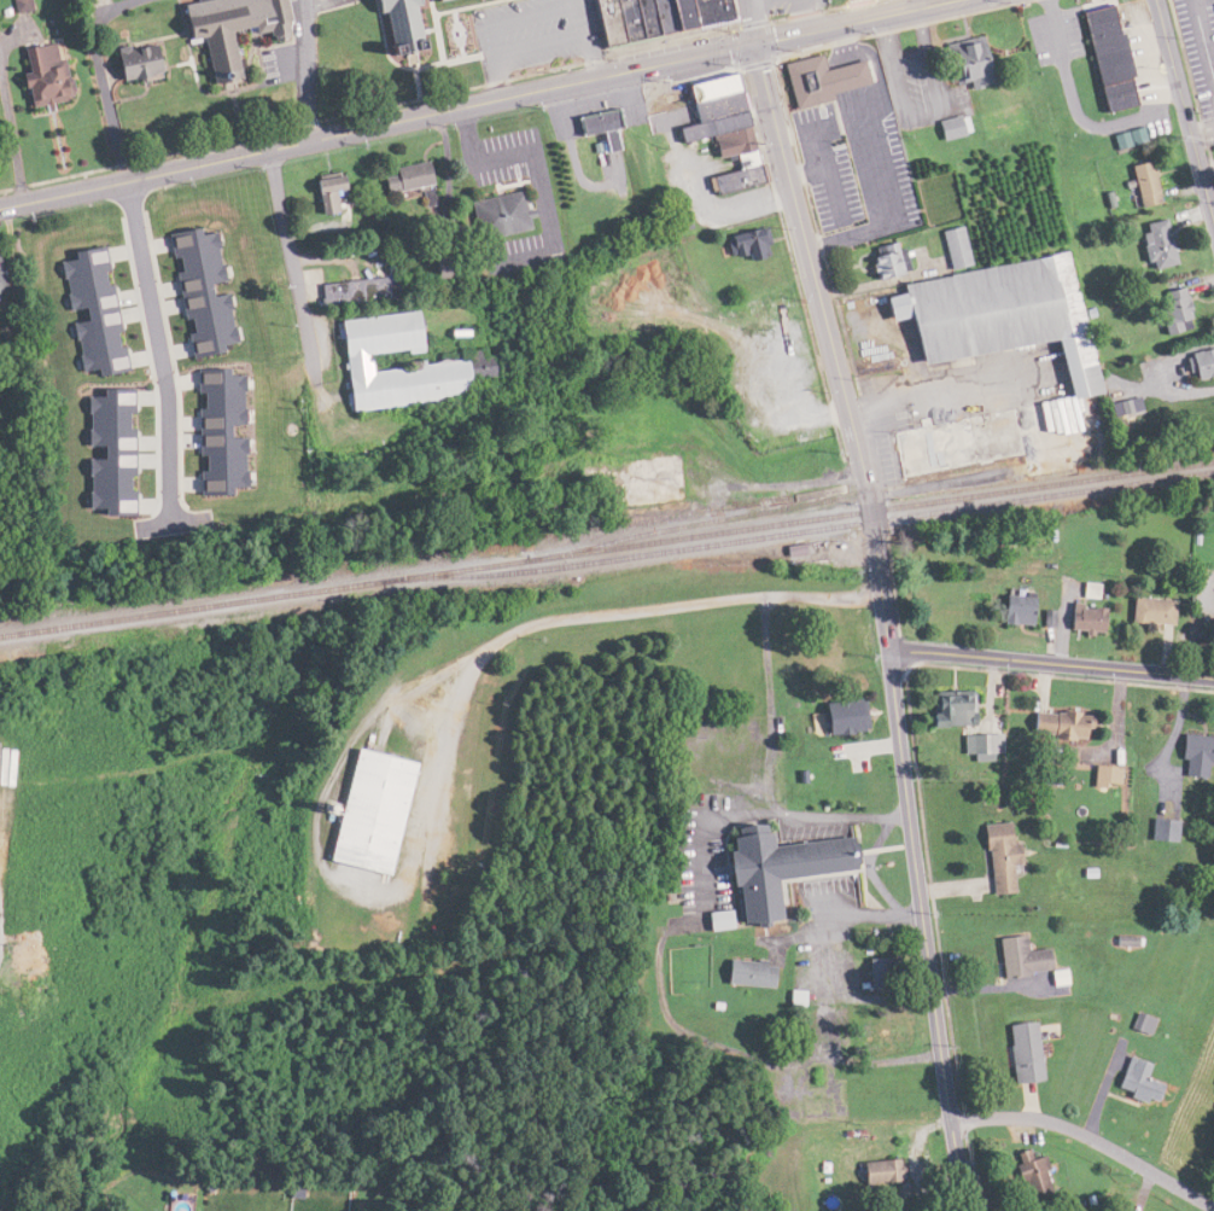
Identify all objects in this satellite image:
building: (425, 0)
building: (1213, 2)
building: (13, 6)
building: (649, 17)
building: (391, 25)
building: (222, 28)
road: (584, 36)
road: (1202, 41)
road: (496, 45)
building: (1103, 58)
building: (962, 60)
building: (129, 63)
road: (629, 65)
road: (305, 70)
road: (104, 74)
road: (500, 75)
building: (37, 76)
building: (816, 81)
road: (1066, 93)
road: (1183, 120)
building: (593, 123)
road: (1200, 127)
building: (719, 128)
building: (946, 128)
road: (154, 174)
building: (402, 177)
building: (1140, 184)
building: (323, 196)
building: (494, 216)
building: (746, 245)
building: (1154, 245)
road: (809, 255)
road: (288, 262)
building: (885, 262)
building: (335, 293)
building: (1172, 312)
road: (157, 344)
building: (1200, 363)
building: (442, 365)
building: (1074, 379)
building: (629, 482)
railway: (607, 548)
building: (1012, 607)
building: (1149, 610)
building: (1082, 616)
road: (1052, 662)
building: (945, 709)
building: (837, 715)
building: (1056, 722)
building: (976, 743)
building: (1193, 753)
road: (440, 767)
building: (1101, 775)
building: (364, 809)
building: (1163, 829)
building: (993, 856)
road: (916, 861)
building: (769, 872)
road: (842, 918)
building: (1015, 956)
building: (746, 972)
building: (1142, 1024)
building: (880, 1032)
building: (1017, 1050)
building: (1134, 1079)
road: (1088, 1137)
building: (876, 1171)
building: (1026, 1174)

